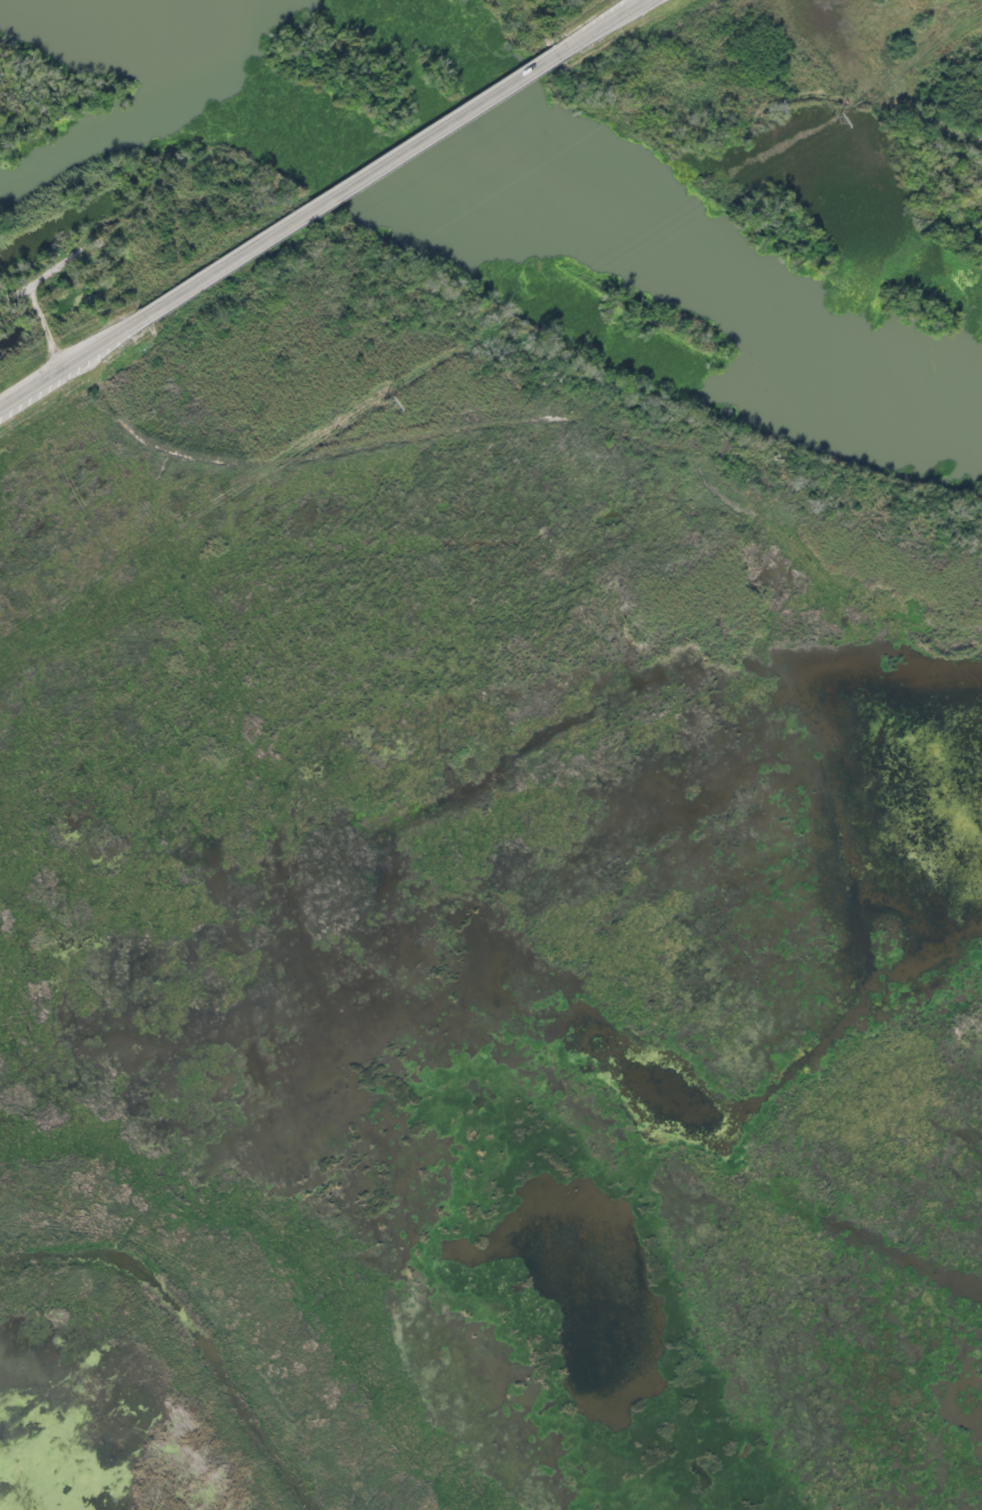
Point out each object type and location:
road: (604, 25)
power tower: (833, 120)
road: (354, 184)
road: (72, 363)
power tower: (388, 404)

